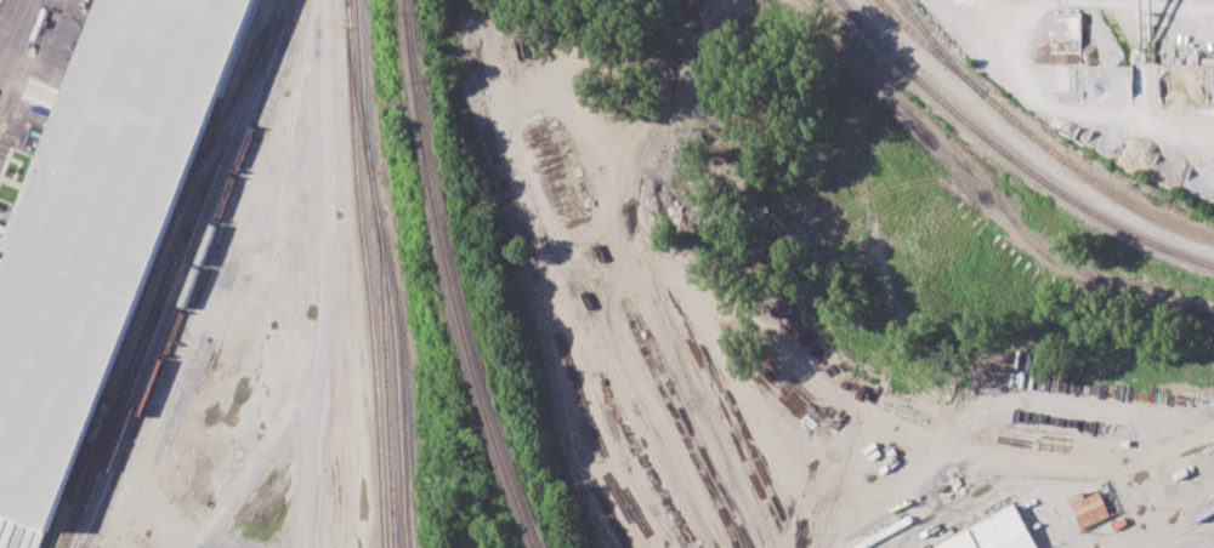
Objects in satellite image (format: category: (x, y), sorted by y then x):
road: (8, 18)
railway: (921, 40)
railway: (362, 85)
railway: (357, 98)
railway: (1039, 142)
road: (1026, 145)
railway: (1010, 155)
road: (327, 189)
road: (981, 193)
building: (98, 226)
railway: (182, 273)
railway: (365, 274)
railway: (193, 275)
railway: (154, 279)
railway: (452, 279)
railway: (395, 358)
railway: (386, 381)
road: (305, 396)
railway: (560, 418)
building: (1089, 508)
building: (995, 532)
road: (1203, 542)

